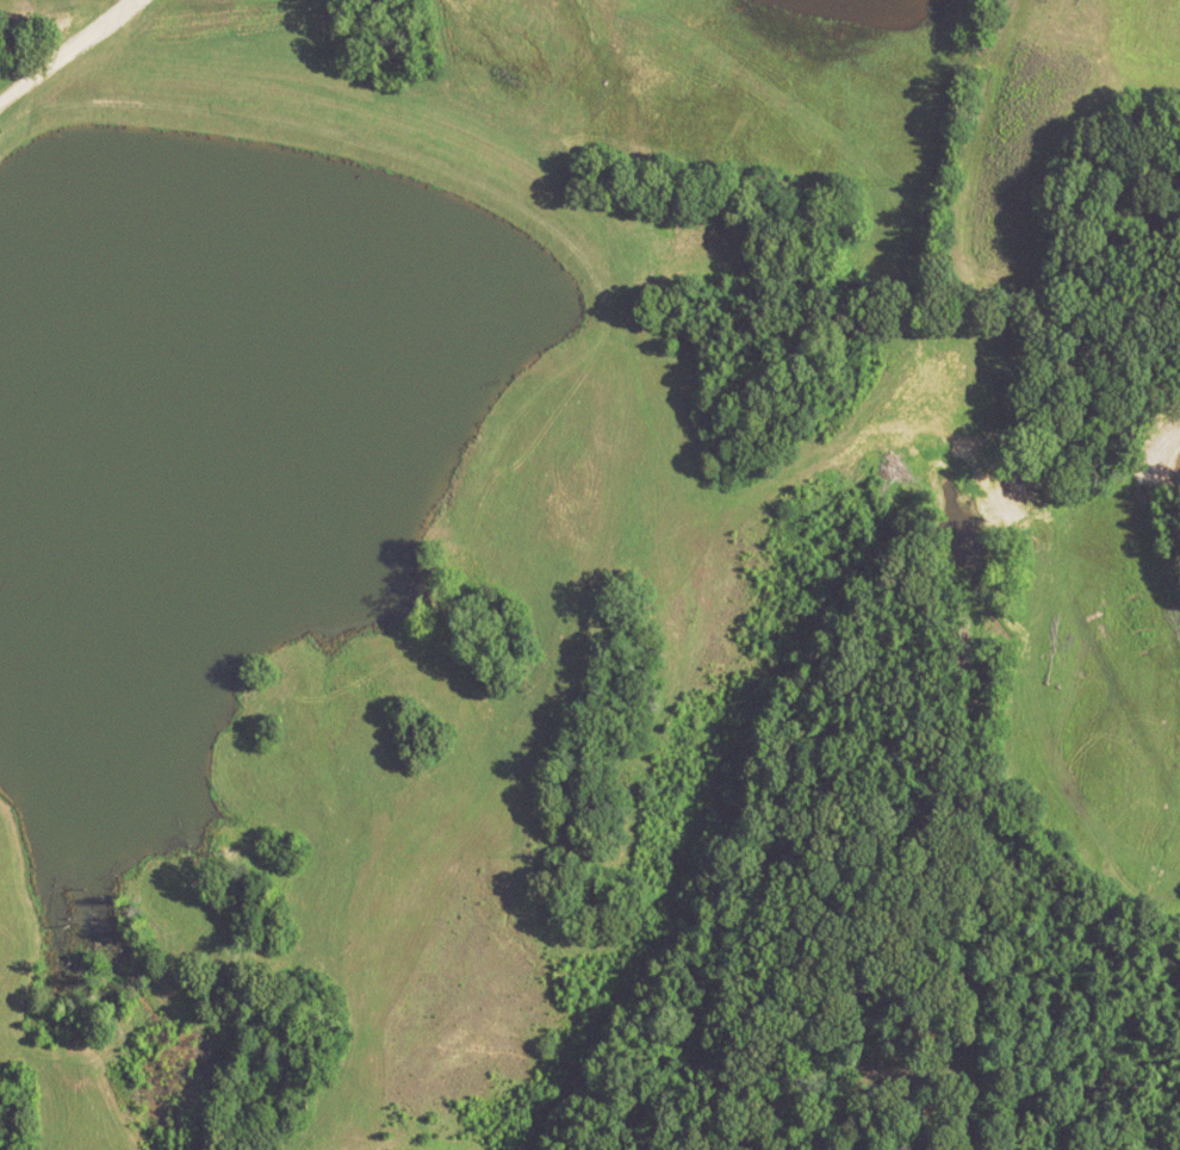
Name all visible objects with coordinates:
road: (27, 131)

